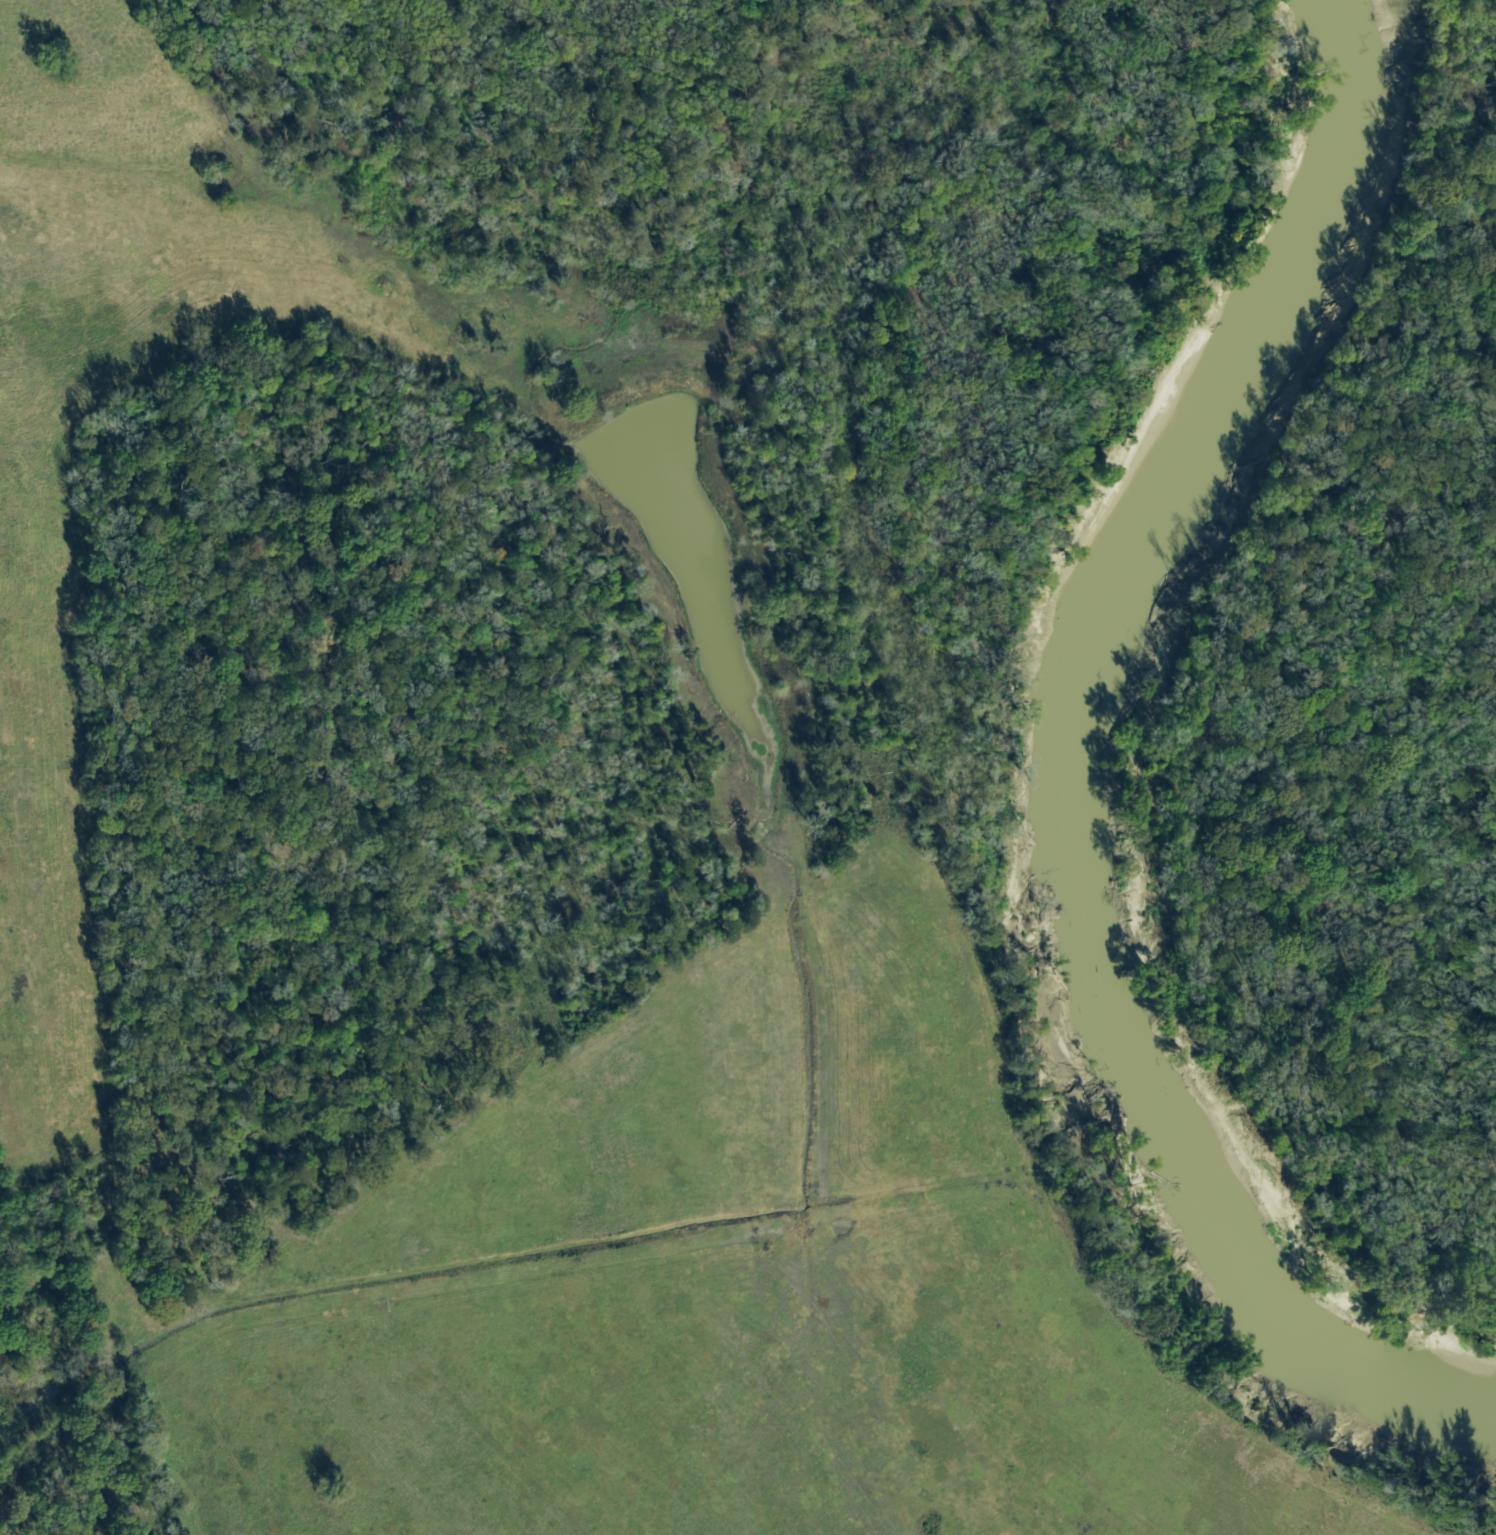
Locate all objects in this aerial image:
river: (1094, 774)

